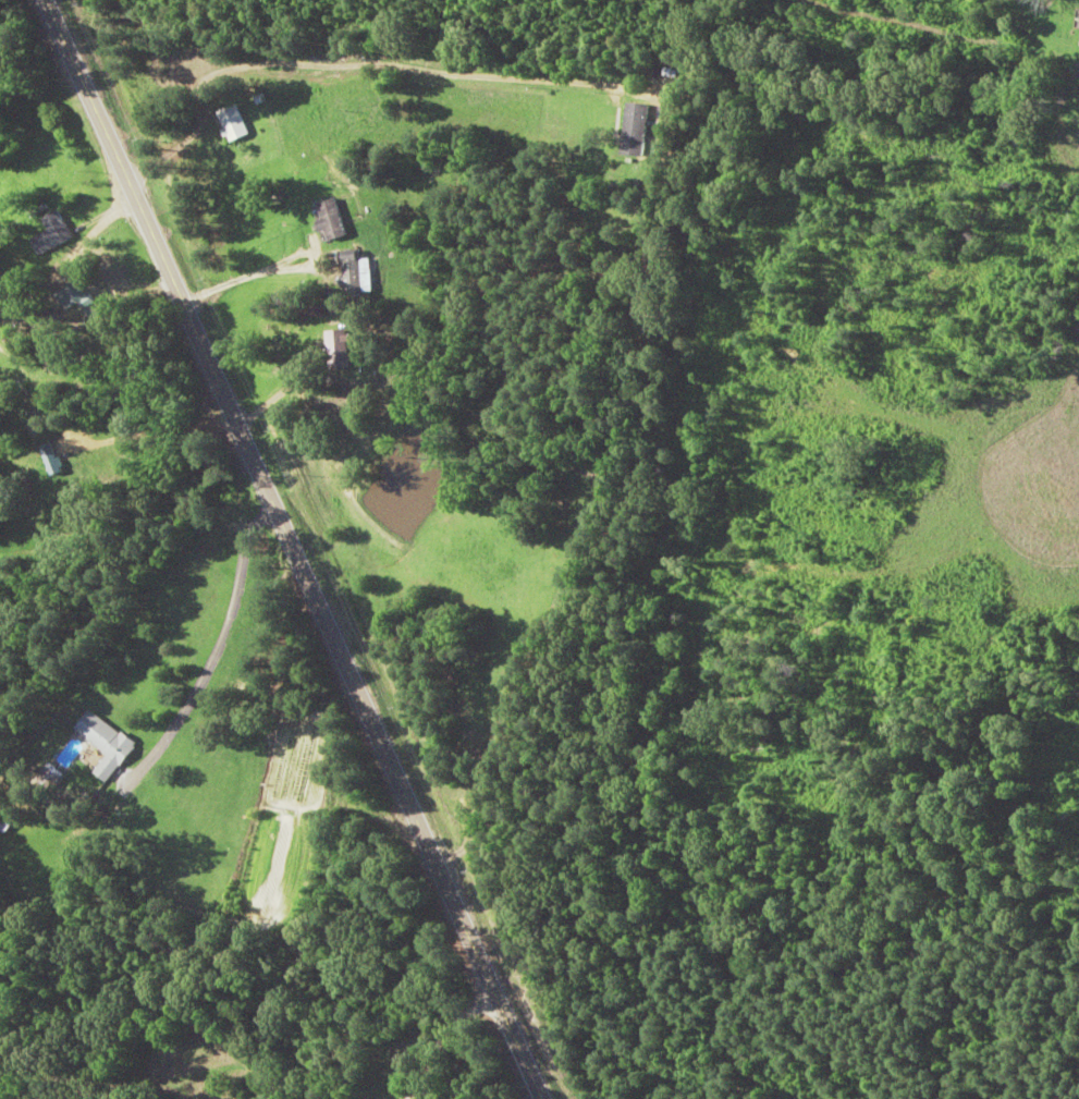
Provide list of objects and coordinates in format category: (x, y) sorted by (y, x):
building: (231, 123)
building: (633, 129)
building: (329, 219)
building: (52, 233)
building: (353, 272)
road: (82, 295)
building: (338, 347)
road: (292, 546)
building: (106, 743)

